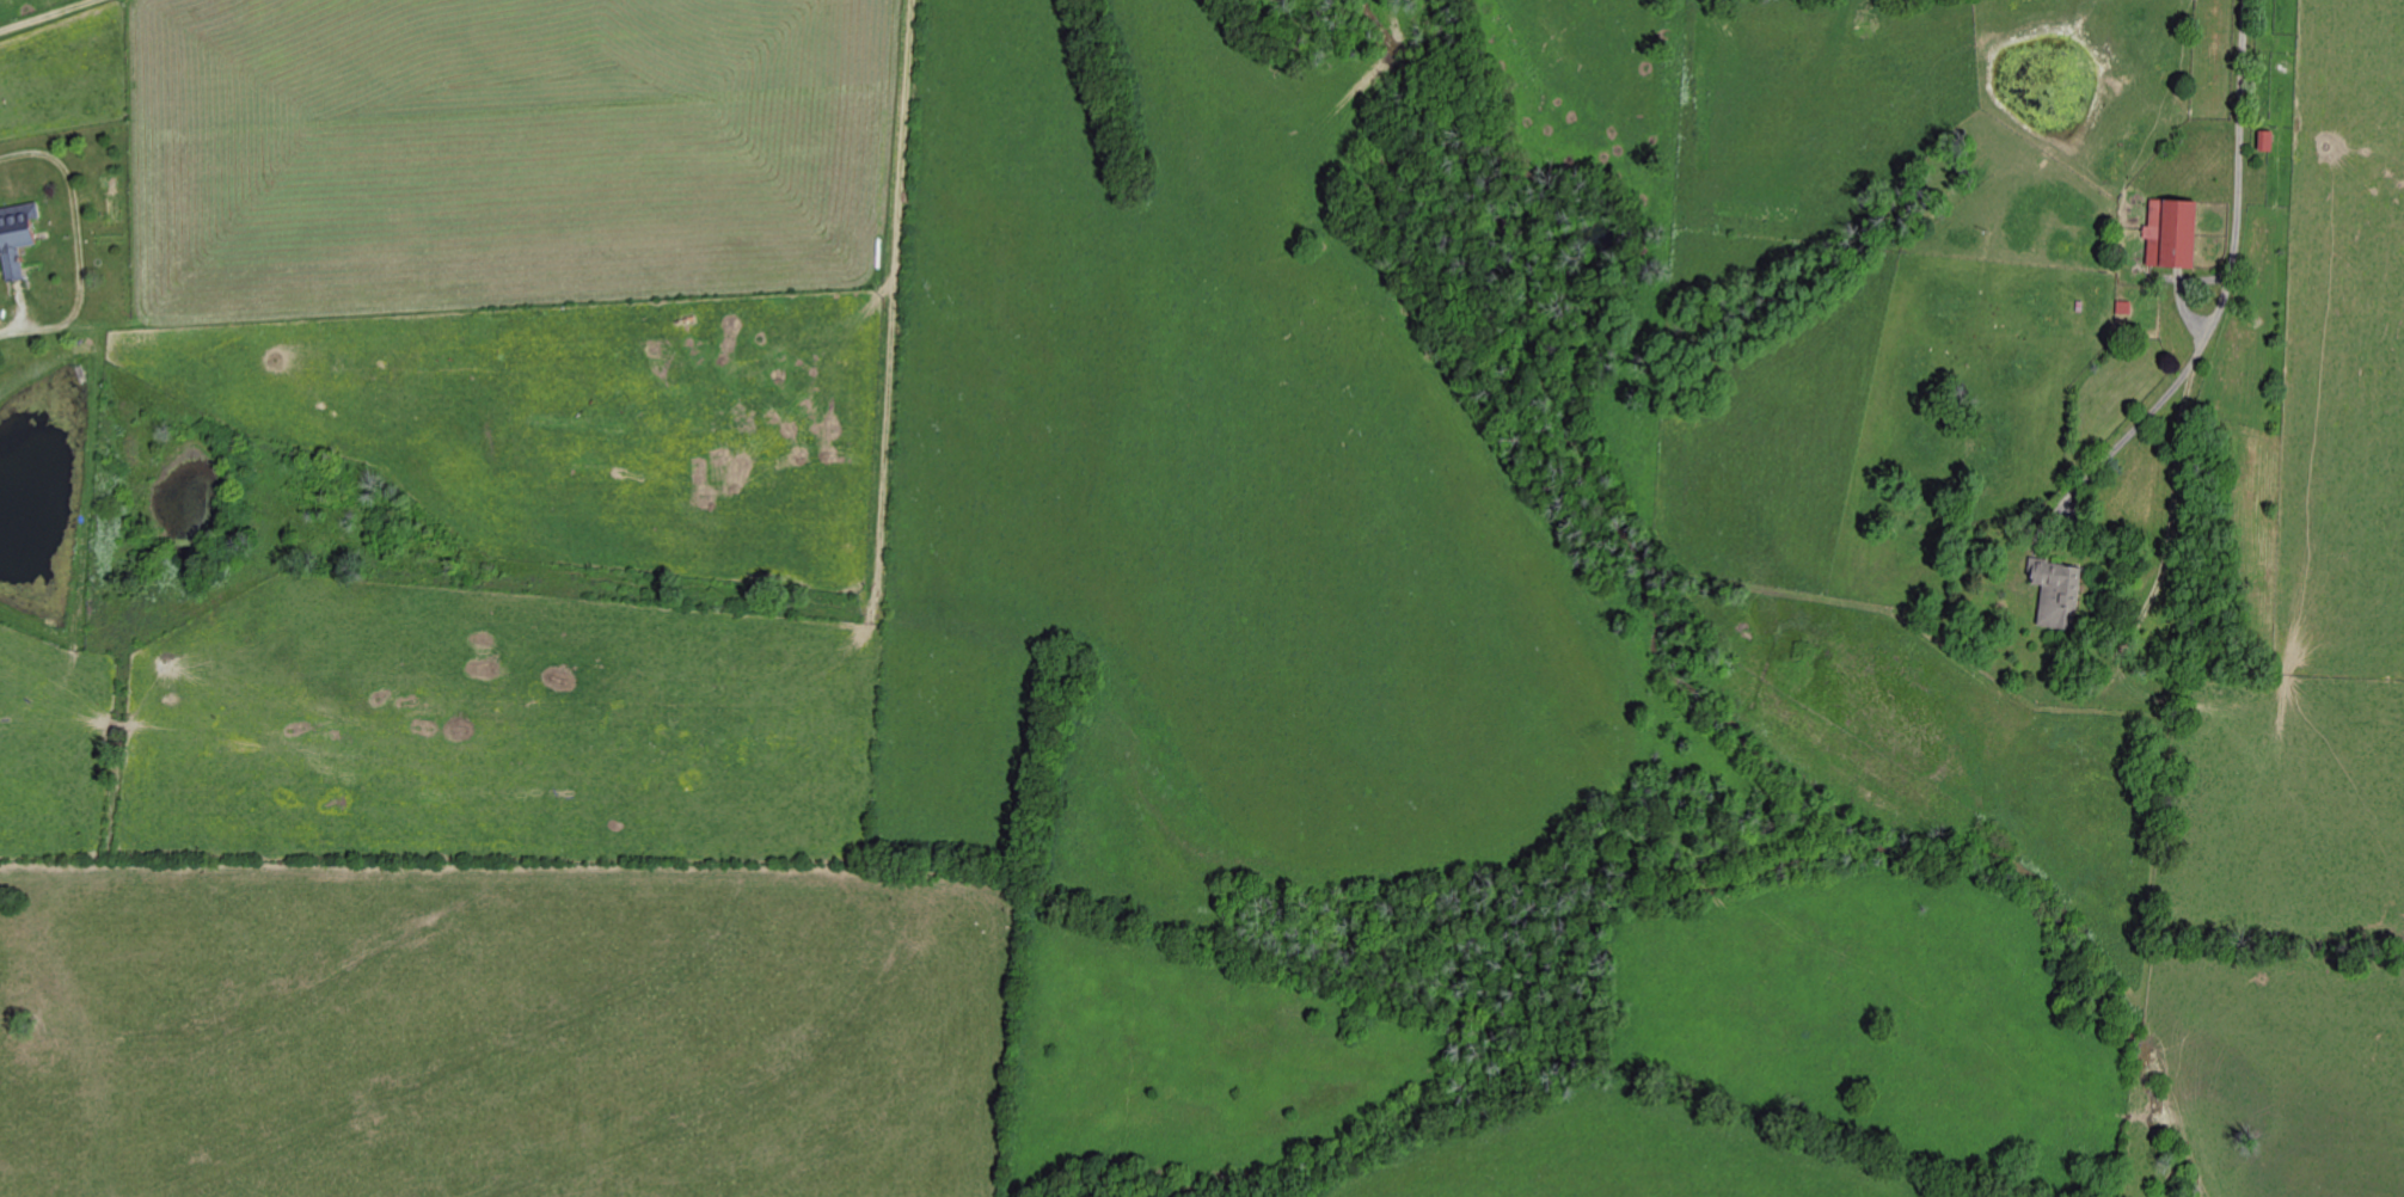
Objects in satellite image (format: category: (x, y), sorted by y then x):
road: (31, 11)
building: (2264, 141)
building: (2167, 235)
building: (14, 239)
road: (2221, 294)
building: (2122, 308)
building: (2054, 594)

